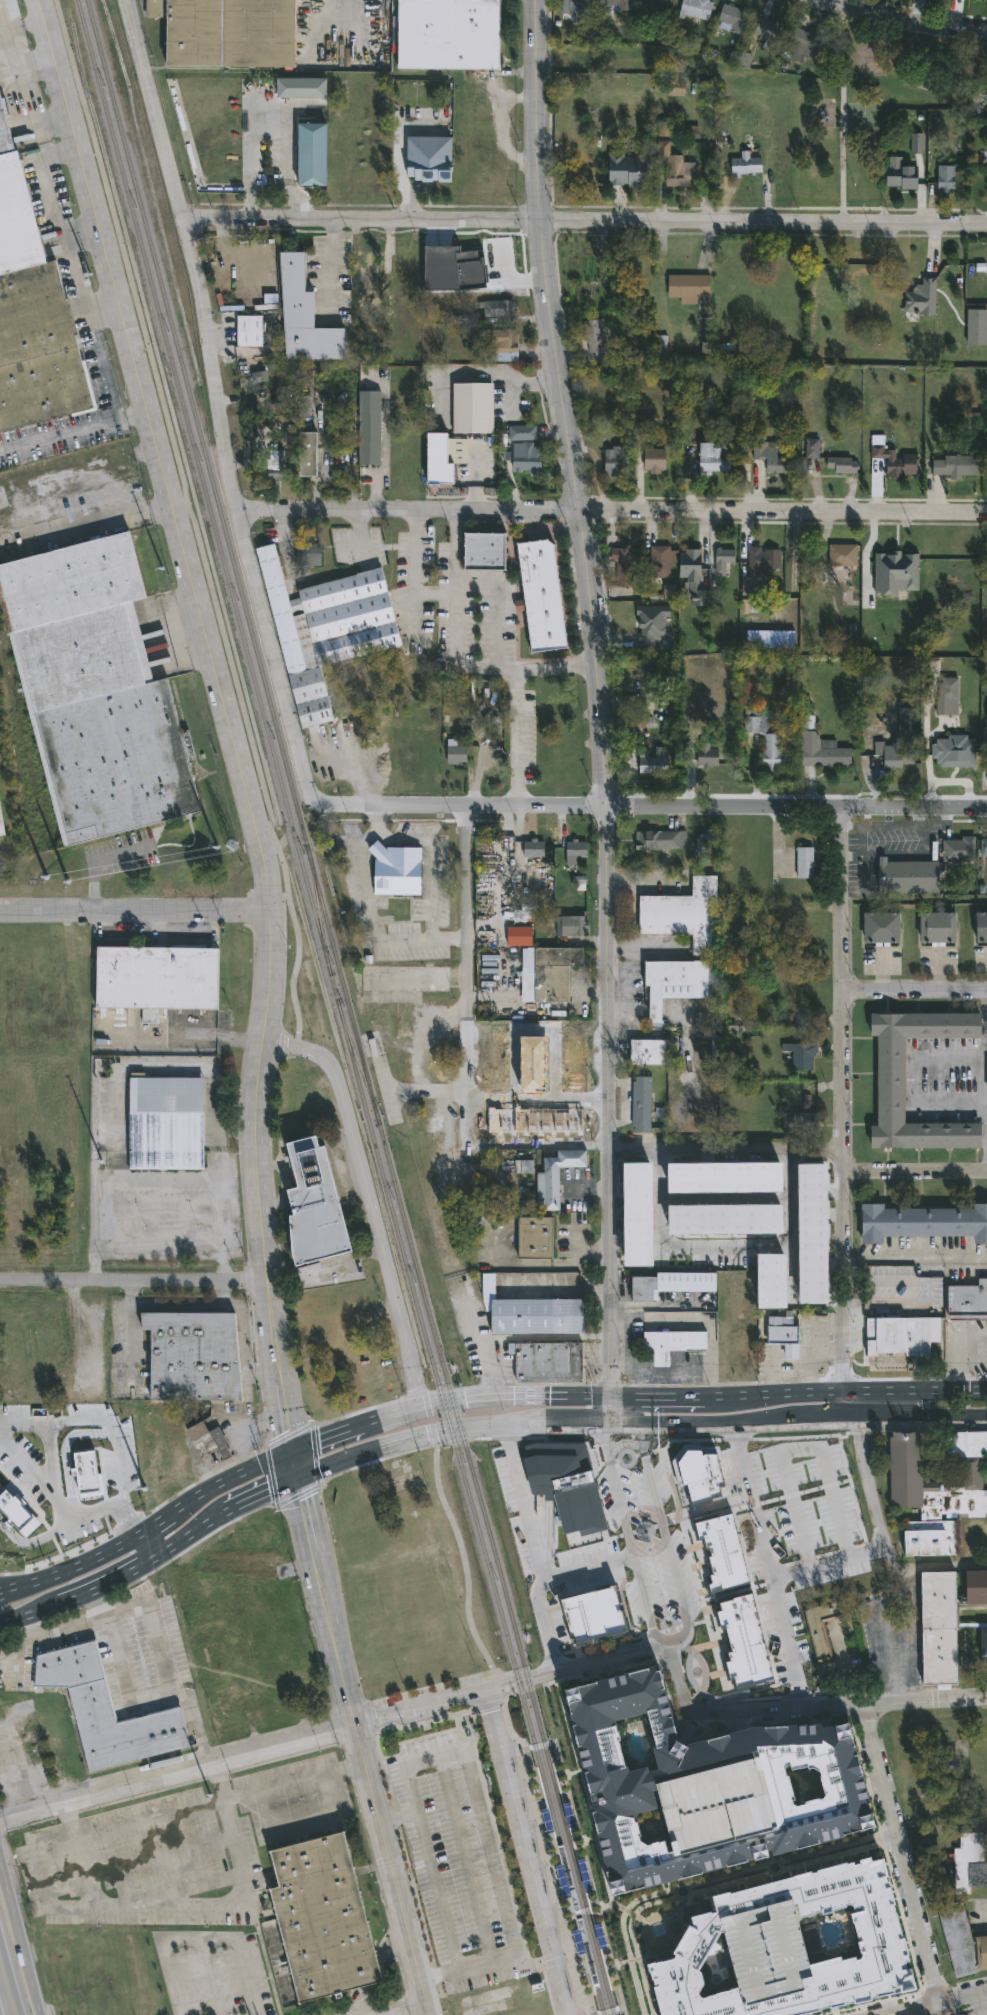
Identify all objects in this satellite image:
power tower: (10, 0)
building: (981, 0)
building: (618, 4)
building: (575, 6)
building: (657, 6)
building: (696, 9)
building: (732, 20)
road: (907, 20)
road: (28, 23)
building: (226, 32)
building: (768, 32)
building: (447, 34)
building: (806, 44)
road: (40, 67)
road: (24, 84)
building: (301, 89)
building: (476, 108)
road: (535, 110)
park: (856, 115)
park: (851, 119)
road: (834, 154)
building: (311, 155)
building: (428, 160)
building: (745, 165)
building: (674, 168)
building: (627, 171)
building: (900, 175)
road: (44, 176)
building: (945, 179)
building: (986, 180)
road: (359, 221)
road: (762, 221)
road: (74, 254)
power tower: (83, 255)
building: (403, 264)
road: (333, 268)
building: (366, 276)
building: (688, 288)
building: (920, 298)
building: (498, 310)
building: (31, 314)
building: (304, 317)
building: (976, 327)
building: (248, 333)
building: (594, 337)
building: (502, 347)
road: (105, 362)
road: (477, 375)
road: (215, 396)
building: (472, 409)
building: (368, 428)
building: (527, 450)
road: (157, 452)
building: (307, 456)
building: (710, 459)
building: (892, 460)
building: (275, 461)
building: (772, 461)
building: (654, 463)
building: (613, 464)
building: (841, 466)
building: (954, 467)
building: (436, 468)
road: (611, 508)
road: (193, 522)
road: (123, 524)
road: (361, 532)
parking lot: (358, 546)
building: (490, 556)
building: (842, 557)
building: (724, 558)
building: (762, 561)
building: (659, 564)
building: (920, 565)
building: (622, 567)
road: (418, 569)
building: (691, 571)
building: (894, 574)
road: (439, 592)
power tower: (165, 593)
building: (546, 601)
road: (496, 607)
building: (327, 629)
parking lot: (466, 630)
building: (629, 636)
building: (769, 641)
road: (460, 654)
building: (94, 693)
building: (948, 694)
building: (986, 712)
building: (906, 725)
building: (767, 738)
road: (520, 739)
building: (954, 752)
building: (455, 756)
building: (895, 756)
building: (833, 757)
building: (488, 758)
building: (706, 760)
building: (652, 763)
road: (643, 806)
road: (603, 820)
road: (893, 827)
building: (1, 830)
road: (924, 830)
building: (659, 842)
road: (861, 844)
building: (705, 845)
power tower: (231, 847)
building: (533, 850)
road: (431, 851)
parking lot: (888, 851)
building: (957, 851)
building: (983, 851)
building: (574, 855)
road: (882, 858)
building: (804, 863)
road: (112, 868)
building: (395, 870)
power tower: (55, 877)
building: (907, 879)
railway: (316, 888)
road: (132, 907)
road: (370, 907)
railway: (317, 910)
building: (683, 918)
building: (804, 925)
building: (569, 928)
building: (981, 929)
building: (880, 930)
building: (937, 930)
road: (447, 939)
road: (463, 958)
building: (543, 970)
building: (156, 980)
building: (404, 981)
building: (673, 985)
building: (806, 987)
road: (913, 991)
railway: (334, 992)
road: (186, 1035)
road: (278, 1047)
building: (561, 1050)
building: (647, 1054)
building: (800, 1054)
road: (983, 1060)
railway: (356, 1062)
road: (910, 1079)
building: (890, 1082)
building: (641, 1106)
road: (218, 1120)
building: (799, 1122)
building: (165, 1125)
road: (237, 1136)
road: (254, 1142)
road: (723, 1152)
road: (986, 1164)
road: (914, 1171)
power tower: (102, 1172)
road: (163, 1178)
building: (555, 1179)
building: (717, 1180)
building: (645, 1184)
road: (842, 1200)
road: (718, 1204)
building: (315, 1208)
road: (373, 1216)
building: (629, 1218)
building: (719, 1224)
building: (923, 1224)
road: (786, 1228)
building: (805, 1237)
building: (534, 1239)
road: (670, 1250)
building: (651, 1253)
road: (914, 1261)
road: (132, 1277)
building: (764, 1284)
building: (671, 1285)
building: (891, 1288)
building: (965, 1300)
road: (179, 1306)
road: (656, 1307)
building: (535, 1317)
road: (695, 1319)
road: (473, 1333)
building: (782, 1335)
building: (901, 1335)
road: (523, 1340)
road: (631, 1346)
building: (669, 1346)
road: (817, 1347)
road: (957, 1348)
road: (243, 1350)
building: (736, 1352)
road: (830, 1354)
building: (192, 1357)
building: (547, 1361)
road: (972, 1362)
road: (771, 1372)
road: (671, 1373)
road: (621, 1374)
road: (702, 1393)
traffic signals: (611, 1395)
road: (281, 1414)
road: (800, 1419)
road: (43, 1421)
traffic signals: (615, 1423)
road: (523, 1424)
road: (352, 1427)
traffic signals: (284, 1431)
road: (710, 1435)
road: (114, 1436)
traffic signals: (318, 1440)
building: (207, 1441)
road: (622, 1446)
road: (779, 1451)
road: (363, 1453)
road: (26, 1463)
road: (290, 1463)
building: (88, 1468)
building: (699, 1468)
parking lot: (29, 1471)
road: (56, 1475)
road: (227, 1479)
building: (565, 1481)
building: (817, 1482)
building: (662, 1486)
traffic signals: (267, 1487)
road: (258, 1491)
building: (936, 1493)
power tower: (143, 1495)
traffic signals: (300, 1503)
road: (835, 1505)
building: (17, 1509)
road: (795, 1511)
road: (87, 1514)
road: (151, 1523)
road: (662, 1533)
parking lot: (795, 1534)
road: (628, 1536)
road: (456, 1537)
road: (31, 1543)
road: (139, 1546)
building: (721, 1546)
road: (532, 1547)
parking lot: (548, 1554)
road: (769, 1563)
building: (833, 1568)
road: (936, 1568)
road: (812, 1569)
road: (70, 1572)
road: (116, 1574)
road: (29, 1580)
building: (975, 1587)
road: (0, 1594)
road: (323, 1598)
road: (97, 1604)
building: (591, 1605)
building: (821, 1626)
road: (155, 1627)
building: (939, 1628)
building: (743, 1635)
building: (983, 1640)
road: (895, 1642)
parking lot: (846, 1652)
building: (727, 1654)
parking lot: (120, 1658)
road: (574, 1665)
fountain: (697, 1675)
road: (675, 1676)
road: (123, 1677)
road: (500, 1694)
road: (911, 1702)
road: (418, 1705)
road: (488, 1706)
road: (760, 1707)
building: (105, 1712)
road: (195, 1720)
road: (729, 1721)
building: (236, 1725)
road: (724, 1733)
road: (542, 1746)
road: (528, 1758)
road: (354, 1766)
road: (177, 1771)
parking lot: (21, 1779)
road: (214, 1781)
building: (619, 1783)
road: (281, 1784)
power tower: (207, 1788)
building: (713, 1801)
parking lot: (713, 1801)
road: (390, 1805)
road: (534, 1806)
road: (396, 1817)
road: (146, 1819)
road: (68, 1821)
road: (486, 1843)
parking lot: (180, 1851)
road: (901, 1851)
road: (523, 1852)
road: (156, 1857)
road: (545, 1857)
road: (464, 1861)
parking lot: (454, 1862)
building: (969, 1864)
road: (390, 1867)
road: (38, 1880)
road: (710, 1884)
road: (176, 1891)
road: (436, 1892)
railway: (581, 1895)
road: (188, 1907)
road: (587, 1910)
road: (695, 1915)
parking lot: (980, 1915)
road: (981, 1917)
building: (322, 1920)
fountain: (658, 1930)
road: (205, 1939)
building: (961, 1941)
building: (879, 1942)
road: (19, 1944)
building: (764, 1951)
parking garage: (764, 1951)
road: (541, 1966)
parking lot: (214, 1974)
road: (9, 1979)
road: (426, 1979)
street lamp: (946, 1980)
road: (980, 1989)
railway: (610, 1990)
street lamp: (922, 1992)
railway: (594, 1994)
railway: (583, 1998)
railway: (599, 1999)
road: (925, 2002)
parking lot: (973, 2002)
road: (976, 2003)
road: (942, 2006)
road: (620, 2009)
road: (761, 2009)
road: (411, 2011)
road: (922, 2011)
road: (888, 2013)

